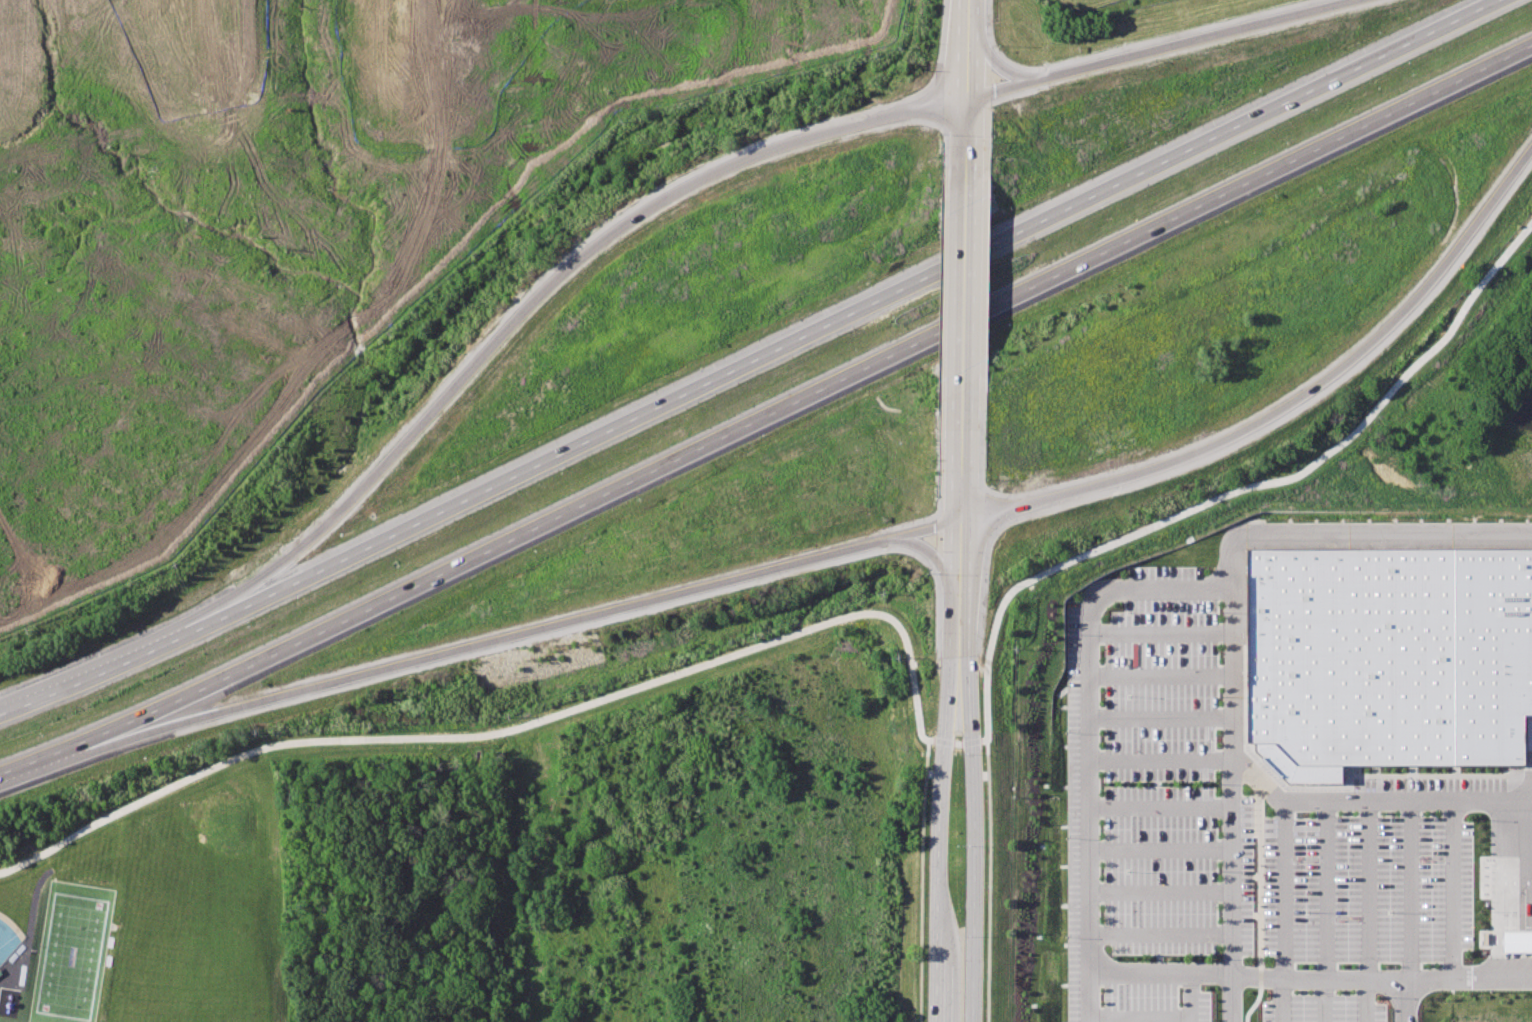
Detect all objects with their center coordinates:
road: (1193, 38)
road: (953, 47)
road: (982, 48)
road: (1011, 56)
road: (925, 76)
road: (1001, 113)
road: (977, 130)
road: (956, 134)
road: (922, 141)
road: (987, 180)
road: (945, 193)
road: (987, 276)
road: (945, 295)
road: (520, 315)
road: (751, 361)
road: (1403, 374)
road: (1312, 388)
road: (985, 412)
road: (768, 414)
road: (944, 423)
road: (993, 493)
road: (973, 495)
road: (952, 496)
road: (936, 509)
road: (1133, 514)
road: (982, 552)
road: (936, 562)
road: (1008, 591)
road: (1158, 631)
road: (451, 651)
building: (1387, 656)
road: (1229, 658)
road: (908, 663)
road: (1159, 675)
road: (1089, 714)
road: (1159, 717)
road: (443, 735)
road: (944, 737)
road: (1160, 760)
road: (971, 772)
road: (1160, 807)
parking lot: (1231, 841)
road: (1160, 850)
road: (989, 878)
road: (921, 880)
road: (1231, 886)
road: (1407, 890)
road: (1451, 890)
road: (1160, 891)
road: (1283, 911)
road: (1325, 912)
road: (1366, 912)
building: (1504, 919)
gas station: (1504, 919)
road: (29, 927)
road: (1160, 934)
park: (8, 937)
park: (72, 953)
road: (1165, 970)
road: (1320, 973)
road: (1491, 977)
road: (934, 987)
road: (1089, 996)
road: (1405, 1000)
road: (1139, 1017)

